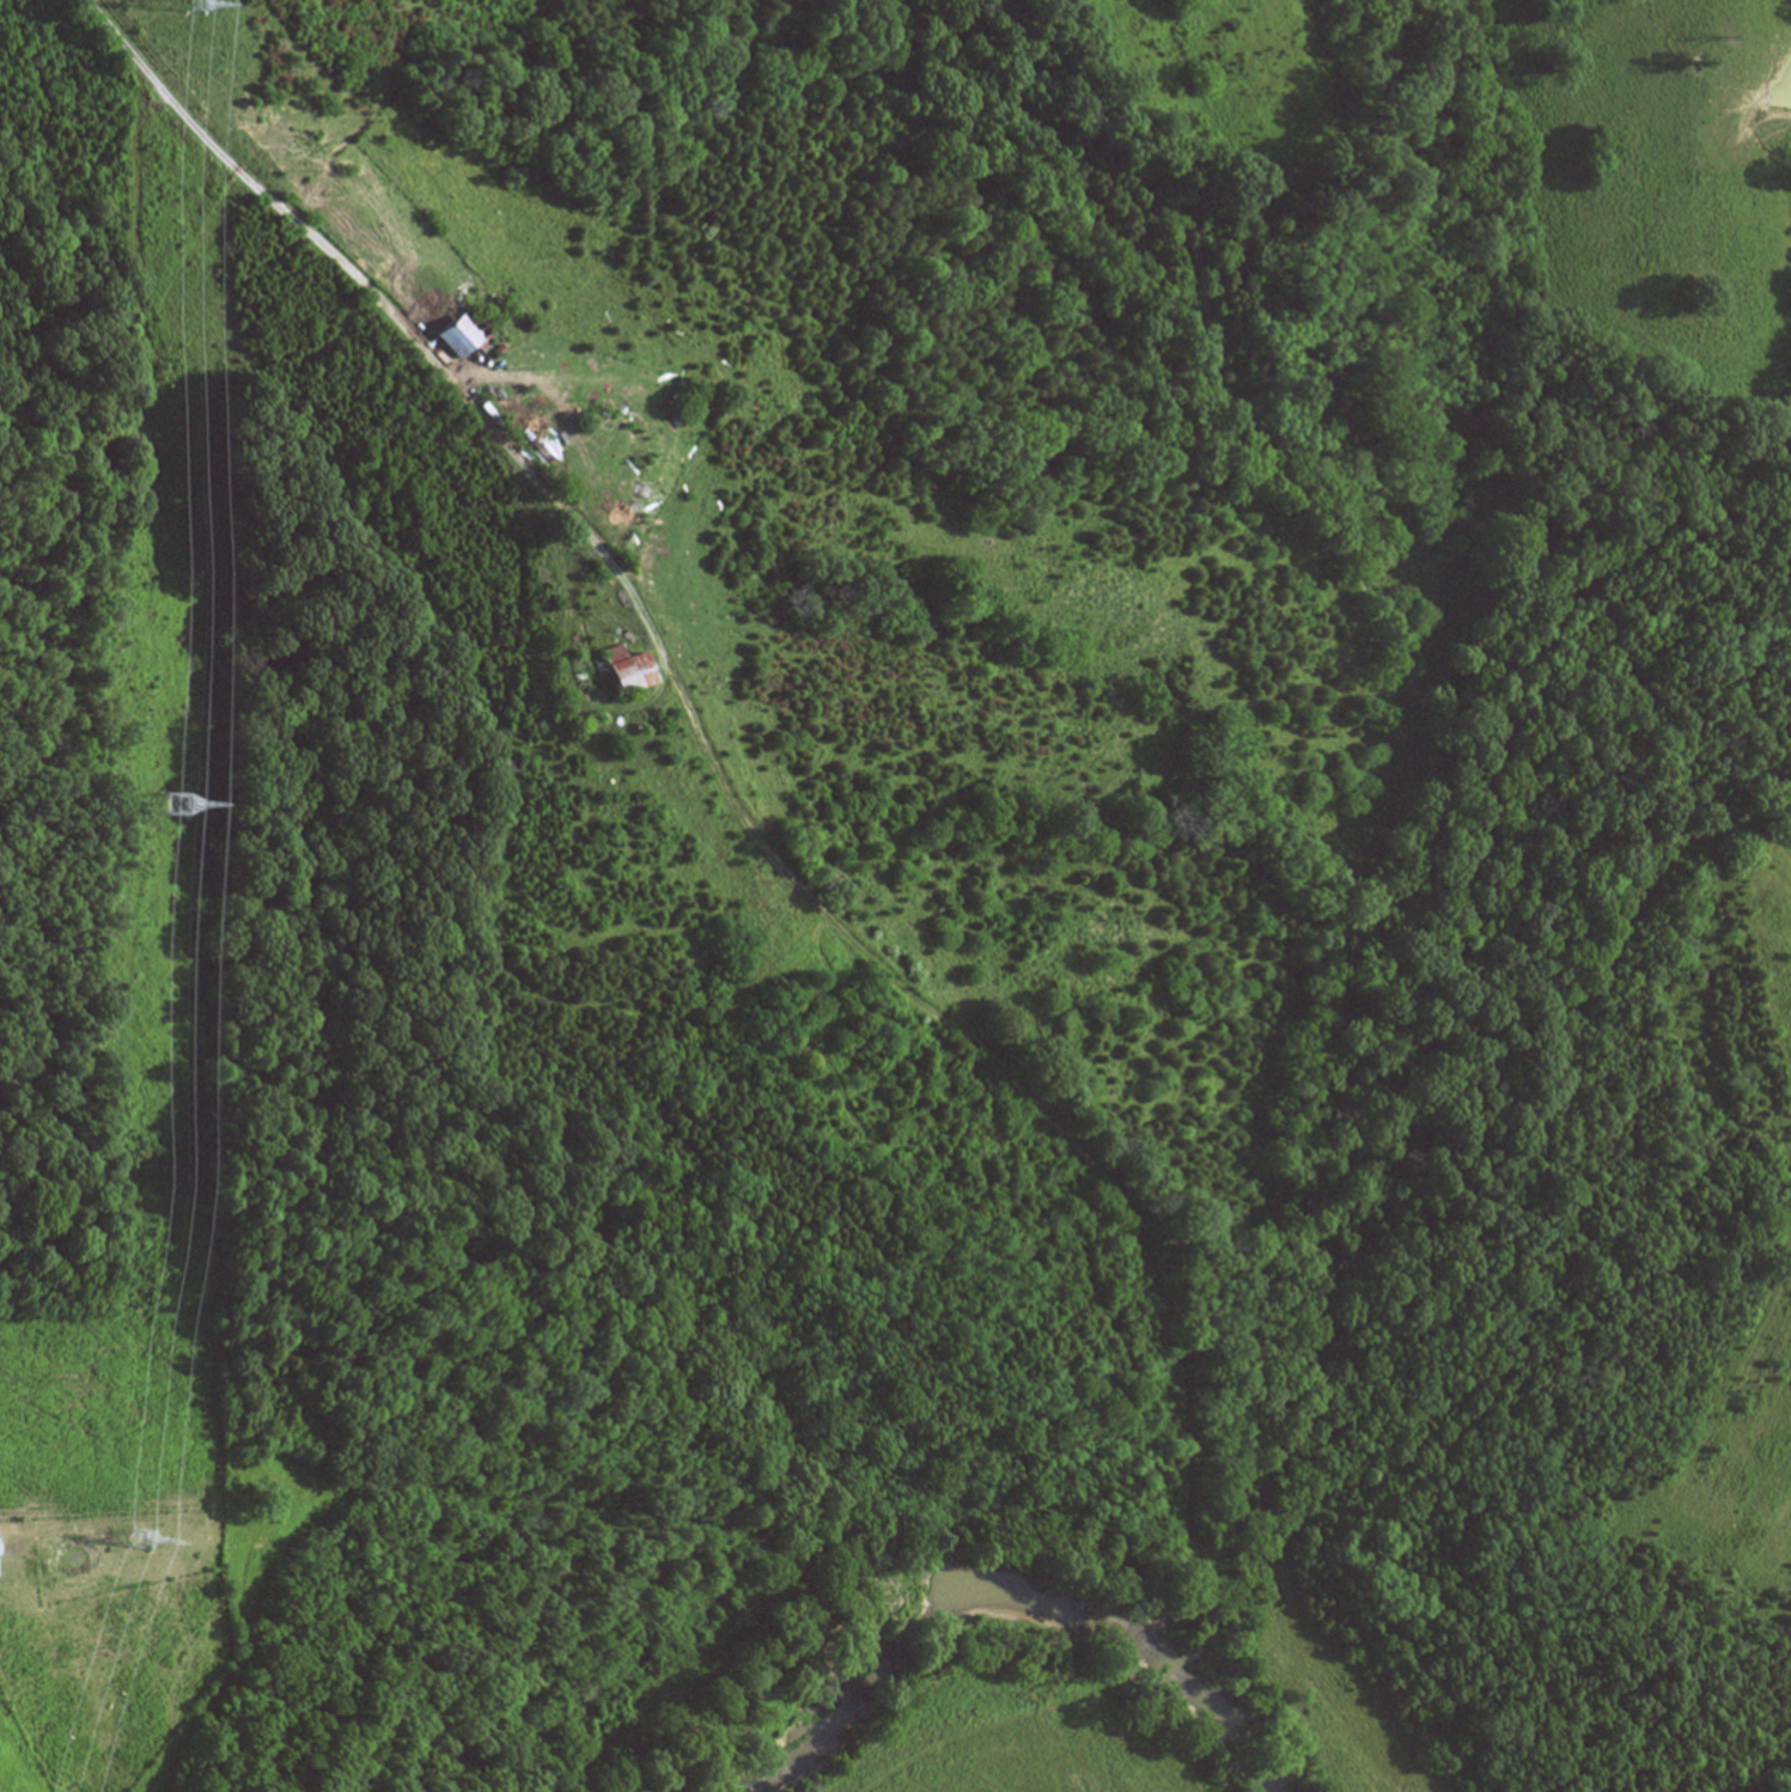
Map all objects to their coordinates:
power tower: (200, 2)
road: (287, 213)
building: (468, 335)
building: (633, 670)
power tower: (171, 803)
power tower: (145, 1535)
river: (1015, 1597)

